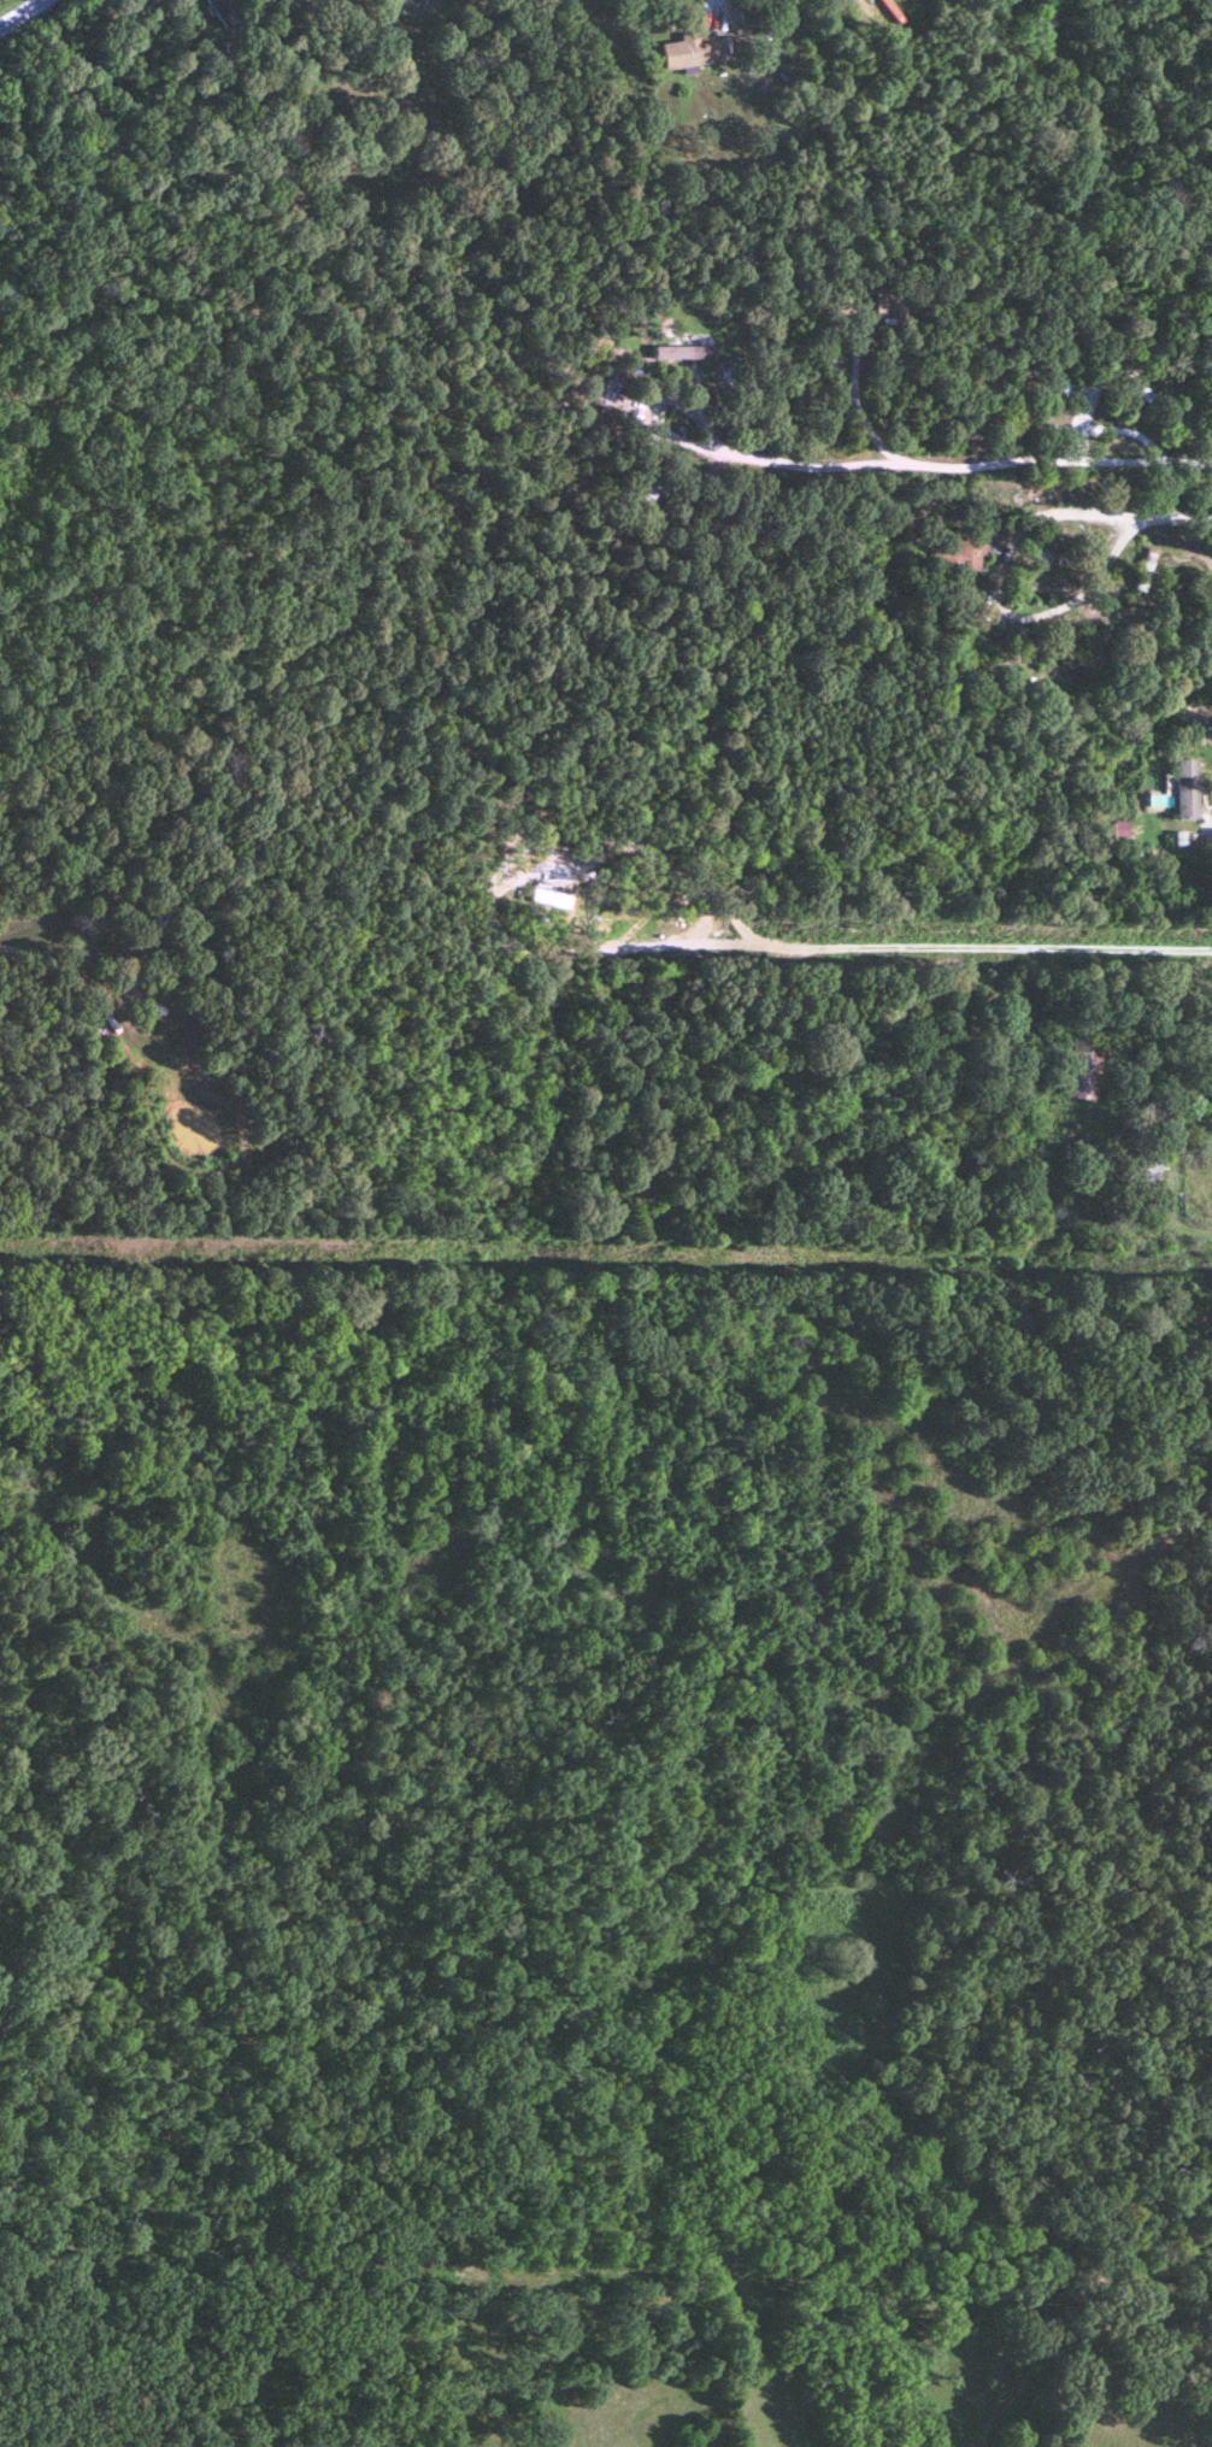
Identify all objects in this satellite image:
road: (710, 7)
road: (19, 13)
building: (694, 52)
building: (888, 308)
building: (1059, 389)
building: (1135, 392)
road: (854, 408)
road: (926, 463)
road: (1099, 523)
building: (961, 557)
building: (1183, 790)
building: (1211, 840)
building: (153, 919)
road: (63, 931)
building: (1077, 1072)
building: (1177, 1127)
building: (1139, 1167)
road: (1166, 1205)
road: (1064, 2312)

